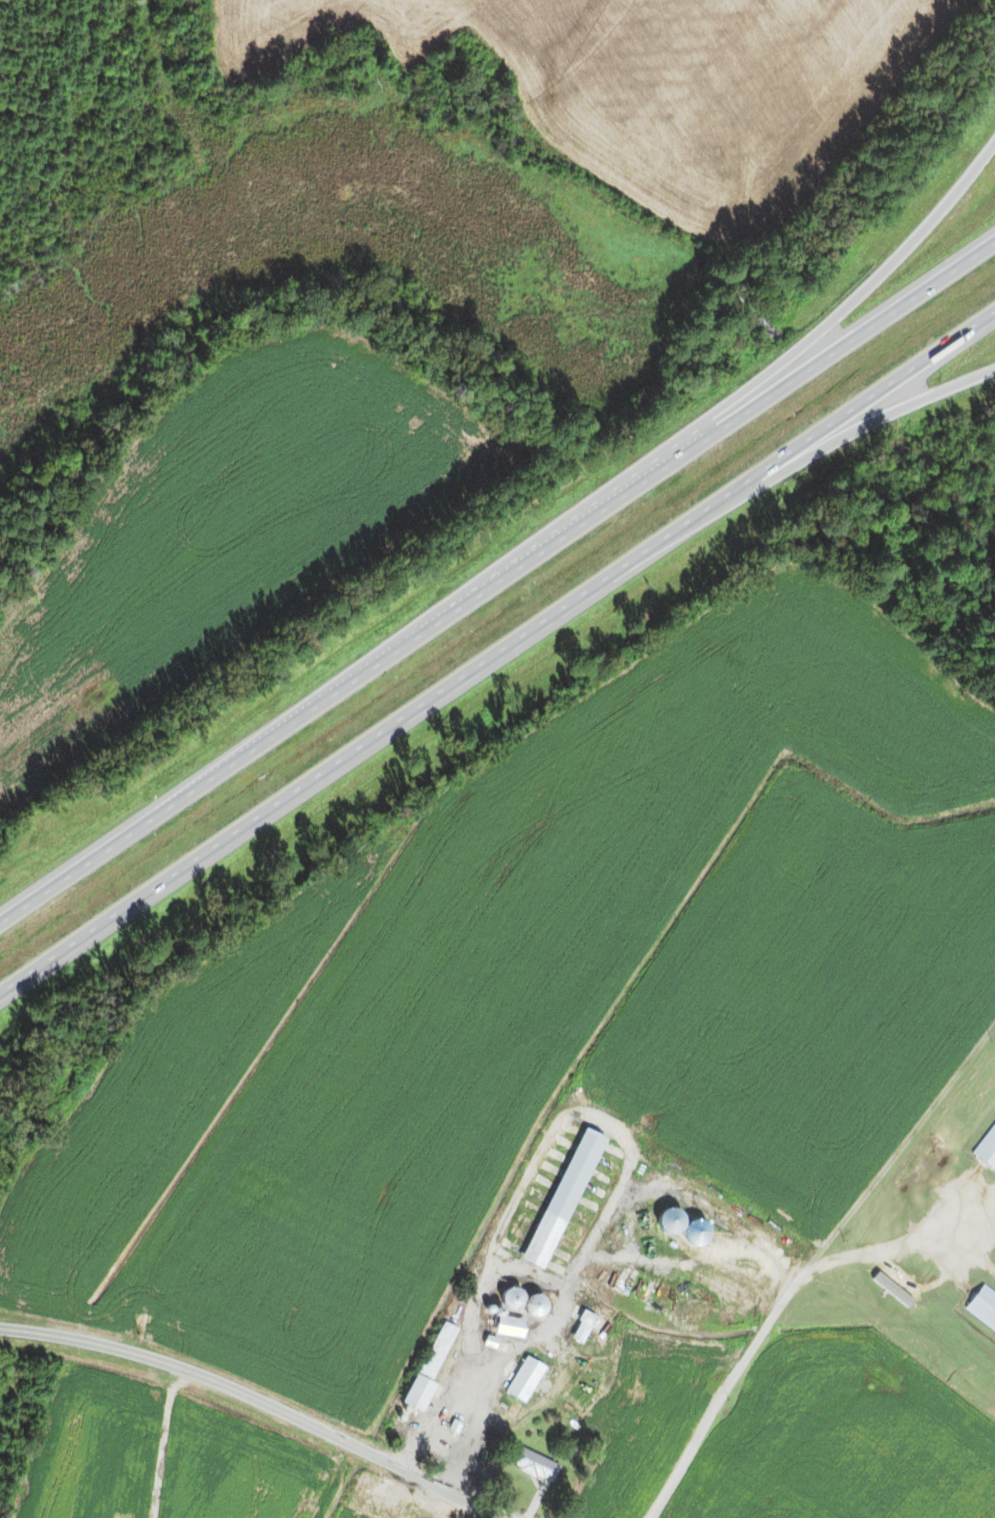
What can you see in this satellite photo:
road: (793, 358)
road: (820, 457)
road: (494, 587)
road: (497, 659)
building: (988, 1153)
building: (562, 1199)
building: (510, 1298)
building: (533, 1305)
building: (982, 1309)
building: (508, 1326)
building: (582, 1328)
building: (429, 1369)
building: (519, 1388)
road: (261, 1400)
building: (534, 1465)
building: (118, 1515)

